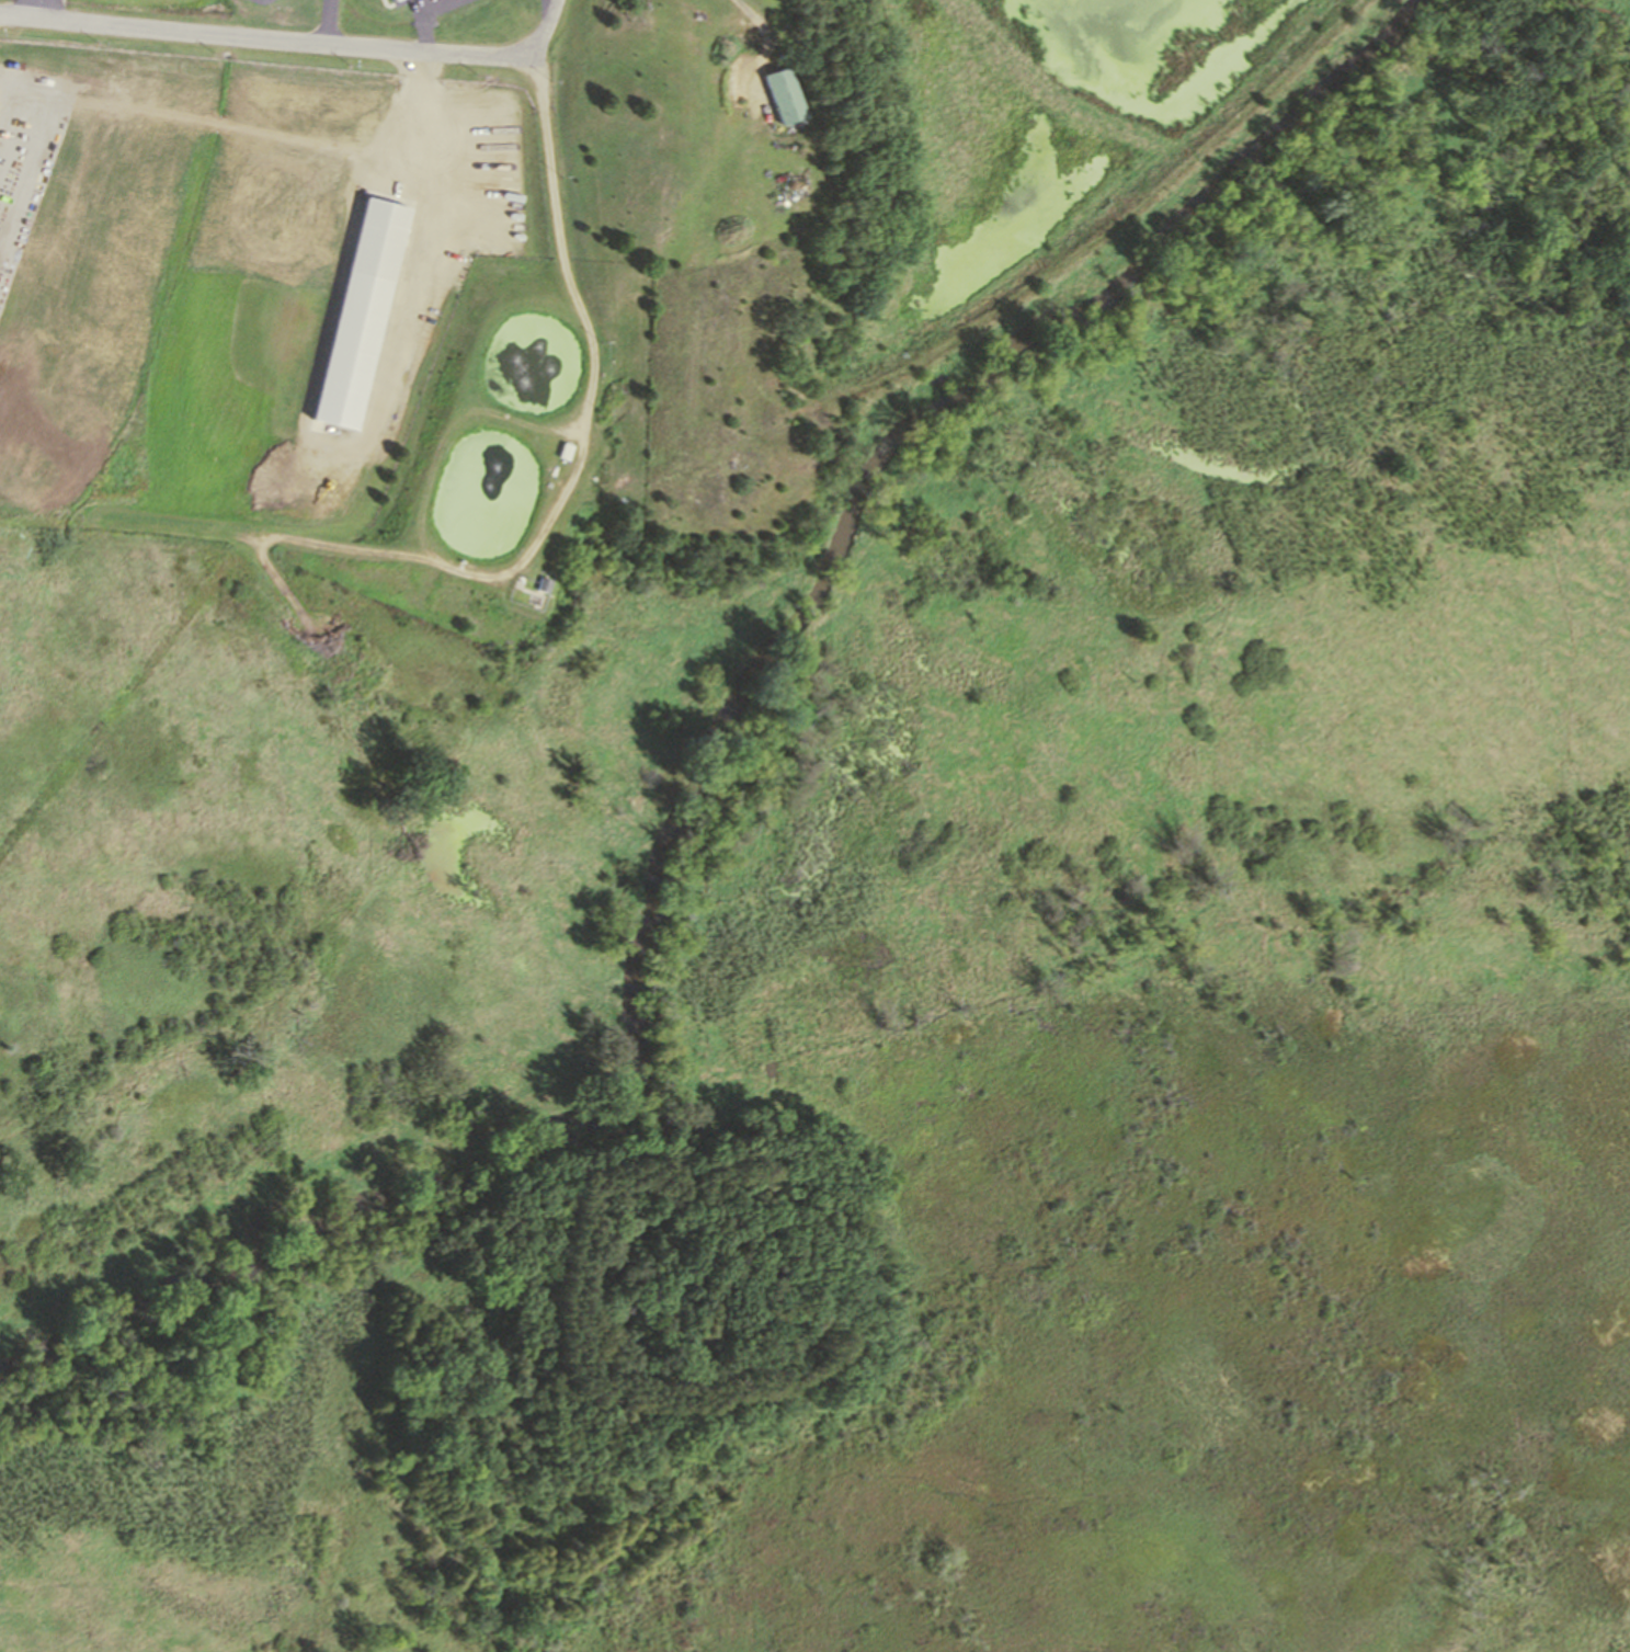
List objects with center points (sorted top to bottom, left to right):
building: (394, 2)
road: (32, 8)
road: (750, 10)
road: (327, 22)
road: (546, 27)
road: (269, 38)
building: (780, 95)
building: (492, 248)
building: (360, 312)
road: (554, 505)
road: (132, 525)
road: (286, 1284)

